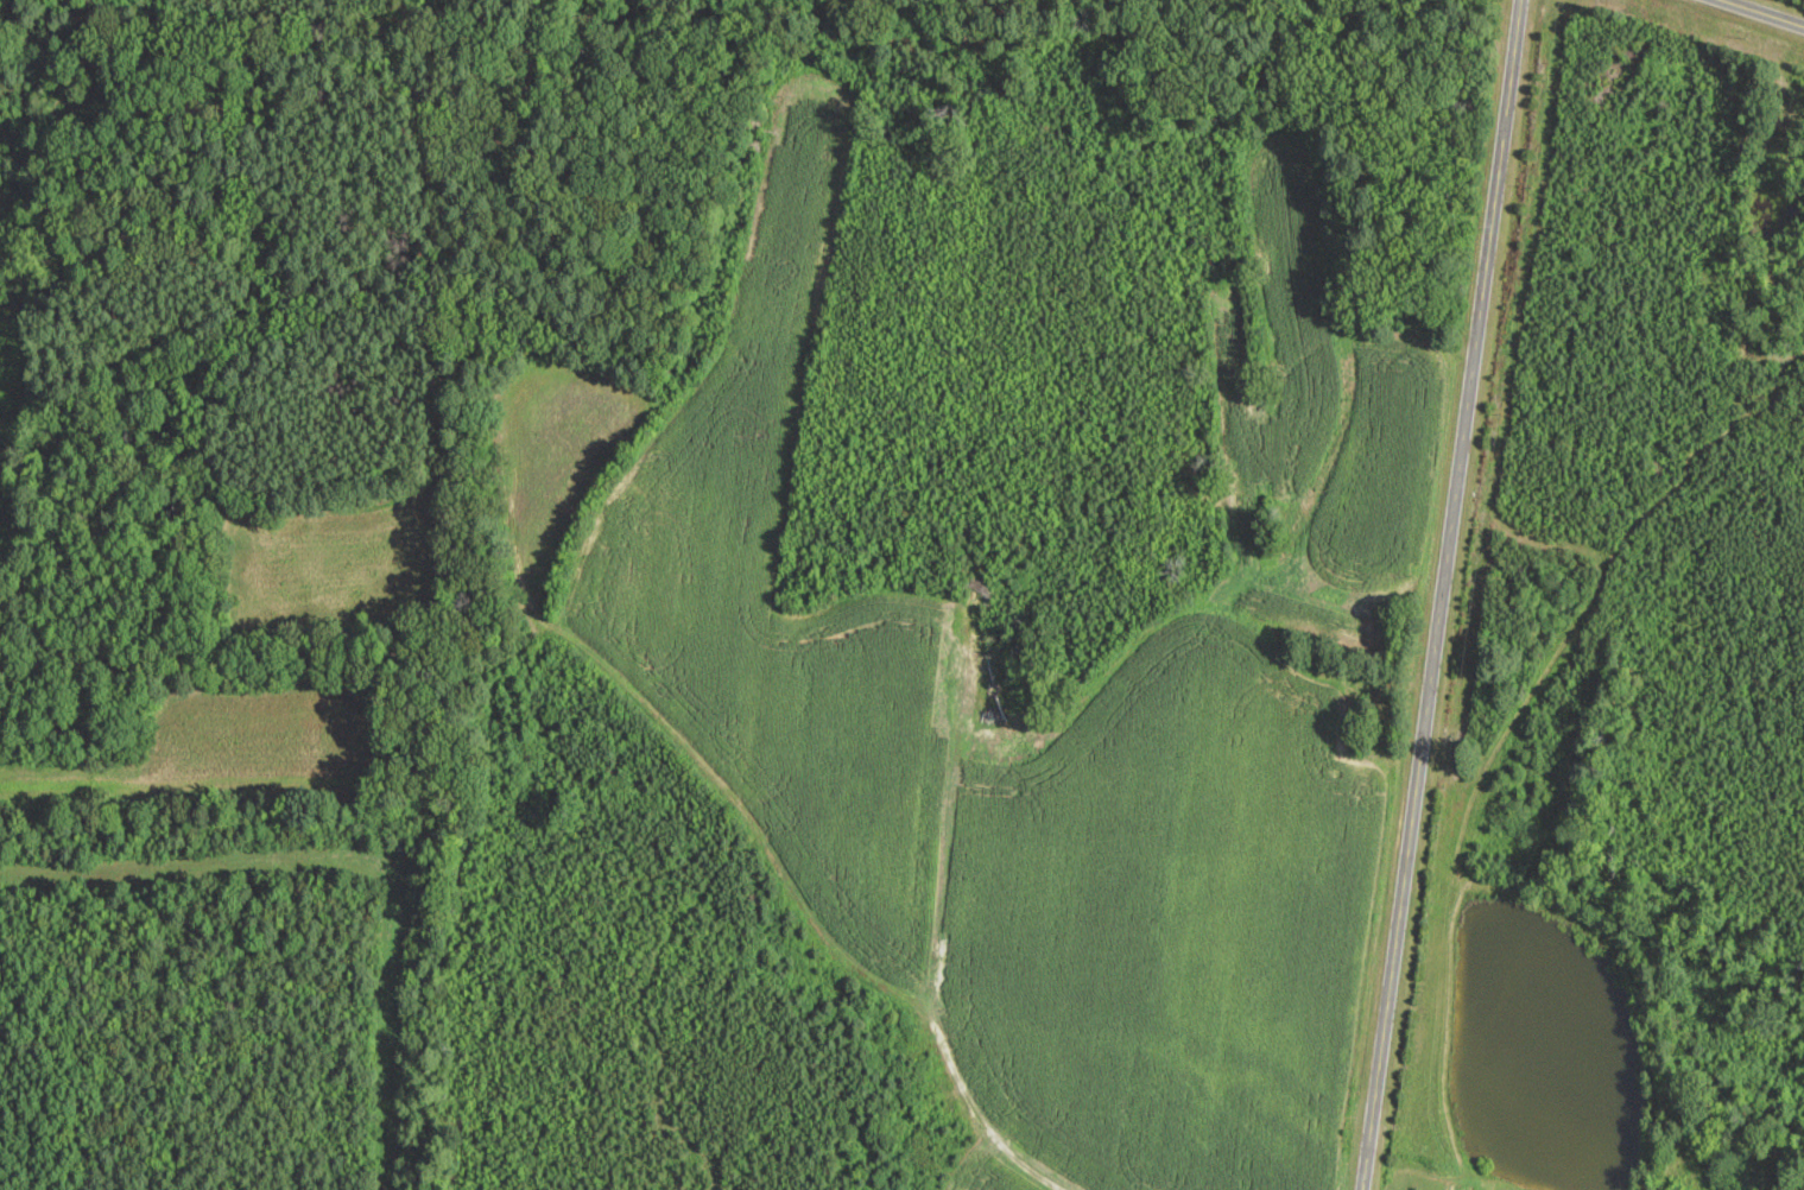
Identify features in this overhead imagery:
road: (1767, 11)
road: (1445, 595)

